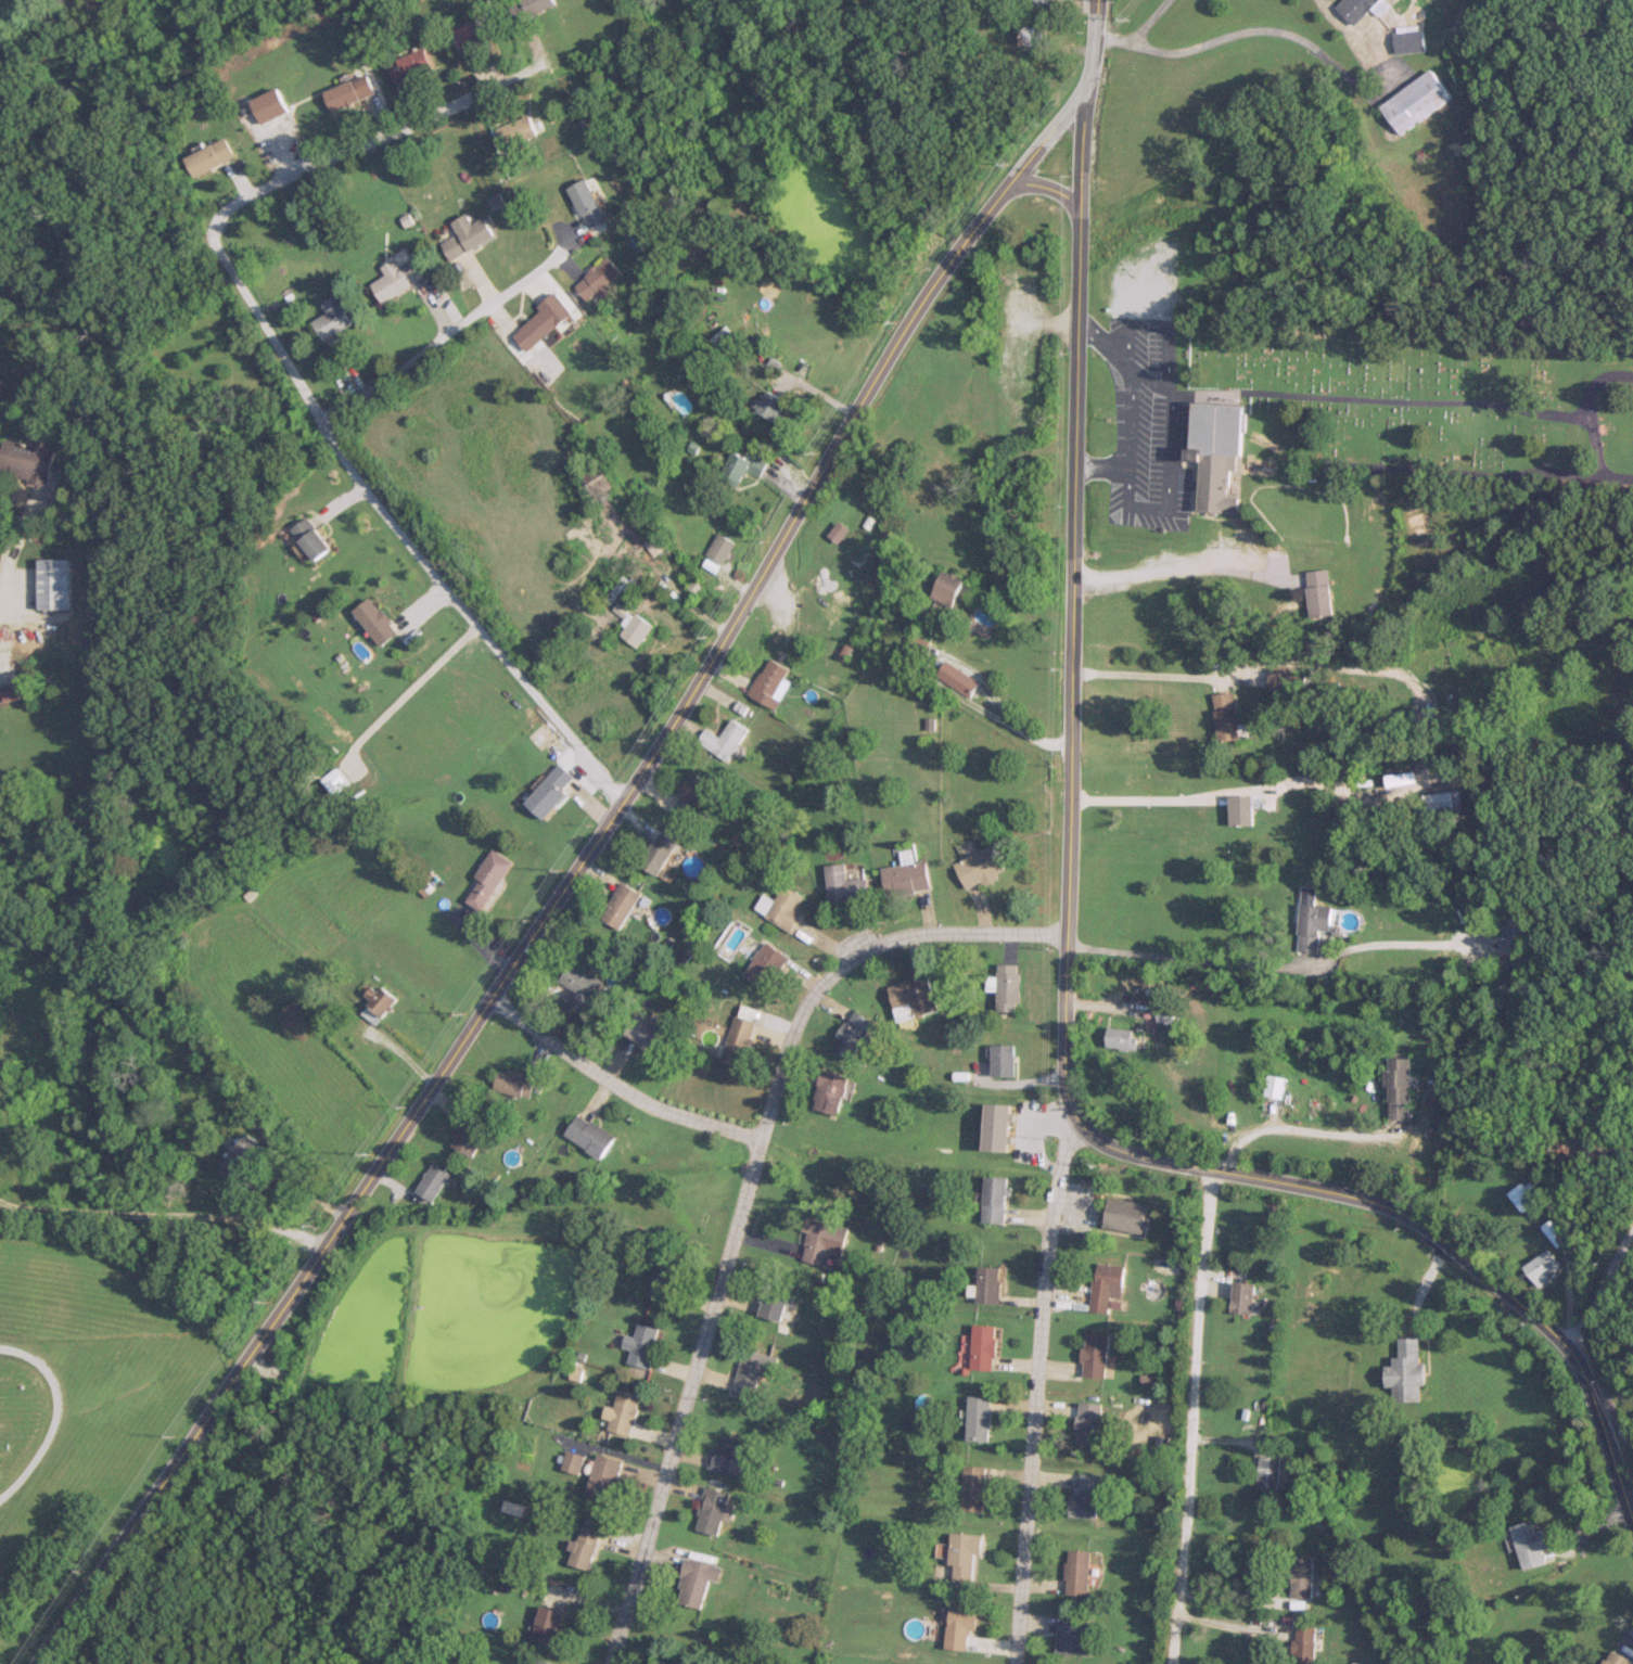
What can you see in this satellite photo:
building: (535, 5)
building: (1356, 8)
road: (1149, 21)
building: (472, 36)
building: (1031, 36)
road: (1113, 39)
building: (1406, 39)
road: (1090, 42)
road: (1312, 47)
building: (412, 65)
building: (352, 92)
building: (1412, 101)
building: (271, 106)
building: (518, 131)
road: (374, 141)
building: (210, 156)
road: (1048, 190)
building: (590, 203)
building: (469, 236)
building: (396, 279)
building: (600, 279)
building: (332, 319)
building: (544, 322)
road: (450, 331)
building: (725, 338)
park: (1426, 395)
building: (769, 405)
building: (1214, 451)
building: (26, 460)
building: (740, 468)
building: (603, 485)
road: (1073, 512)
road: (394, 526)
building: (311, 537)
building: (723, 548)
road: (1179, 566)
road: (1, 571)
building: (52, 584)
building: (951, 588)
building: (1313, 591)
building: (378, 620)
building: (638, 629)
road: (959, 662)
road: (1150, 674)
building: (959, 678)
building: (1283, 679)
building: (771, 683)
building: (8, 692)
building: (1222, 715)
building: (725, 739)
building: (550, 791)
building: (694, 796)
road: (1150, 798)
building: (1439, 803)
building: (1238, 809)
building: (660, 852)
building: (983, 867)
building: (907, 878)
building: (488, 880)
road: (570, 881)
building: (844, 884)
building: (622, 904)
building: (782, 908)
building: (1310, 924)
building: (1514, 929)
road: (1186, 958)
building: (766, 964)
building: (579, 986)
building: (1009, 987)
building: (915, 995)
building: (377, 1003)
building: (1168, 1010)
road: (1063, 1033)
building: (650, 1034)
building: (853, 1034)
building: (1124, 1037)
building: (741, 1038)
building: (1003, 1060)
building: (515, 1083)
building: (1276, 1085)
road: (614, 1086)
building: (1394, 1087)
building: (831, 1091)
building: (256, 1117)
building: (999, 1126)
road: (1302, 1131)
building: (591, 1135)
building: (469, 1136)
building: (244, 1157)
road: (302, 1180)
building: (433, 1181)
road: (739, 1195)
building: (1522, 1195)
building: (995, 1198)
building: (1126, 1214)
road: (164, 1215)
road: (1425, 1227)
building: (1551, 1232)
building: (822, 1240)
building: (1538, 1266)
building: (667, 1276)
road: (1599, 1280)
building: (988, 1283)
building: (1105, 1285)
building: (1242, 1297)
building: (773, 1303)
wastewater plant: (451, 1314)
building: (641, 1344)
building: (984, 1346)
building: (1094, 1354)
building: (752, 1370)
building: (1407, 1371)
road: (1035, 1391)
building: (624, 1412)
road: (56, 1413)
road: (1190, 1416)
building: (979, 1418)
building: (1087, 1422)
road: (1619, 1429)
building: (728, 1457)
building: (1267, 1472)
building: (604, 1476)
building: (975, 1488)
building: (1086, 1496)
building: (712, 1510)
building: (1526, 1544)
building: (585, 1547)
building: (965, 1554)
building: (1077, 1573)
building: (1300, 1576)
building: (696, 1582)
road: (1227, 1609)
building: (549, 1625)
building: (960, 1625)
building: (1074, 1636)
building: (1302, 1644)
building: (1610, 1659)
building: (547, 1662)

